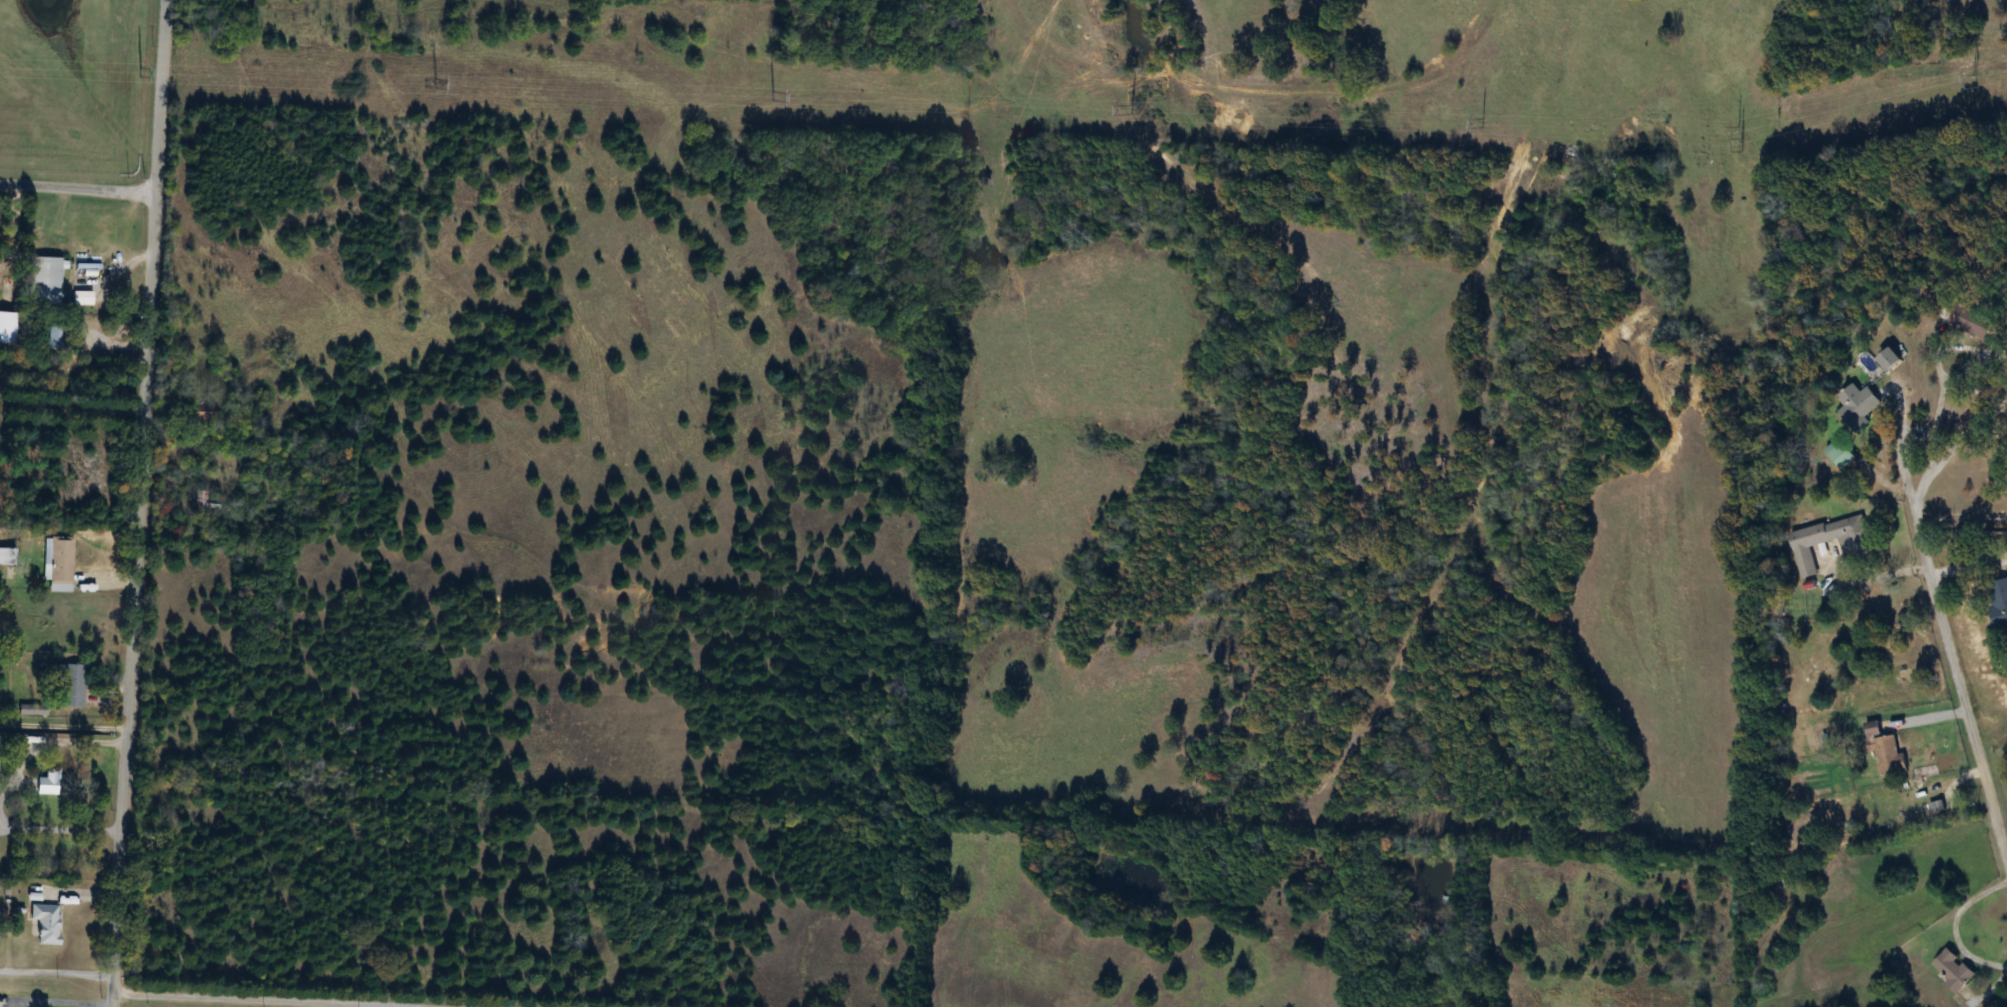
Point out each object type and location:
building: (1960, 8)
power tower: (138, 72)
power tower: (1972, 81)
power tower: (435, 86)
power tower: (771, 97)
power tower: (1128, 108)
power tower: (1481, 124)
power tower: (1740, 140)
road: (76, 191)
building: (43, 281)
building: (6, 328)
building: (56, 336)
building: (1887, 359)
building: (1857, 406)
road: (73, 416)
road: (1951, 440)
building: (1839, 454)
road: (141, 503)
building: (206, 503)
building: (1856, 549)
building: (7, 557)
building: (58, 565)
road: (1969, 567)
building: (1997, 603)
road: (1953, 654)
building: (72, 687)
road: (64, 727)
building: (1884, 751)
building: (67, 775)
building: (44, 924)
building: (1953, 971)
road: (57, 974)
road: (238, 1001)

